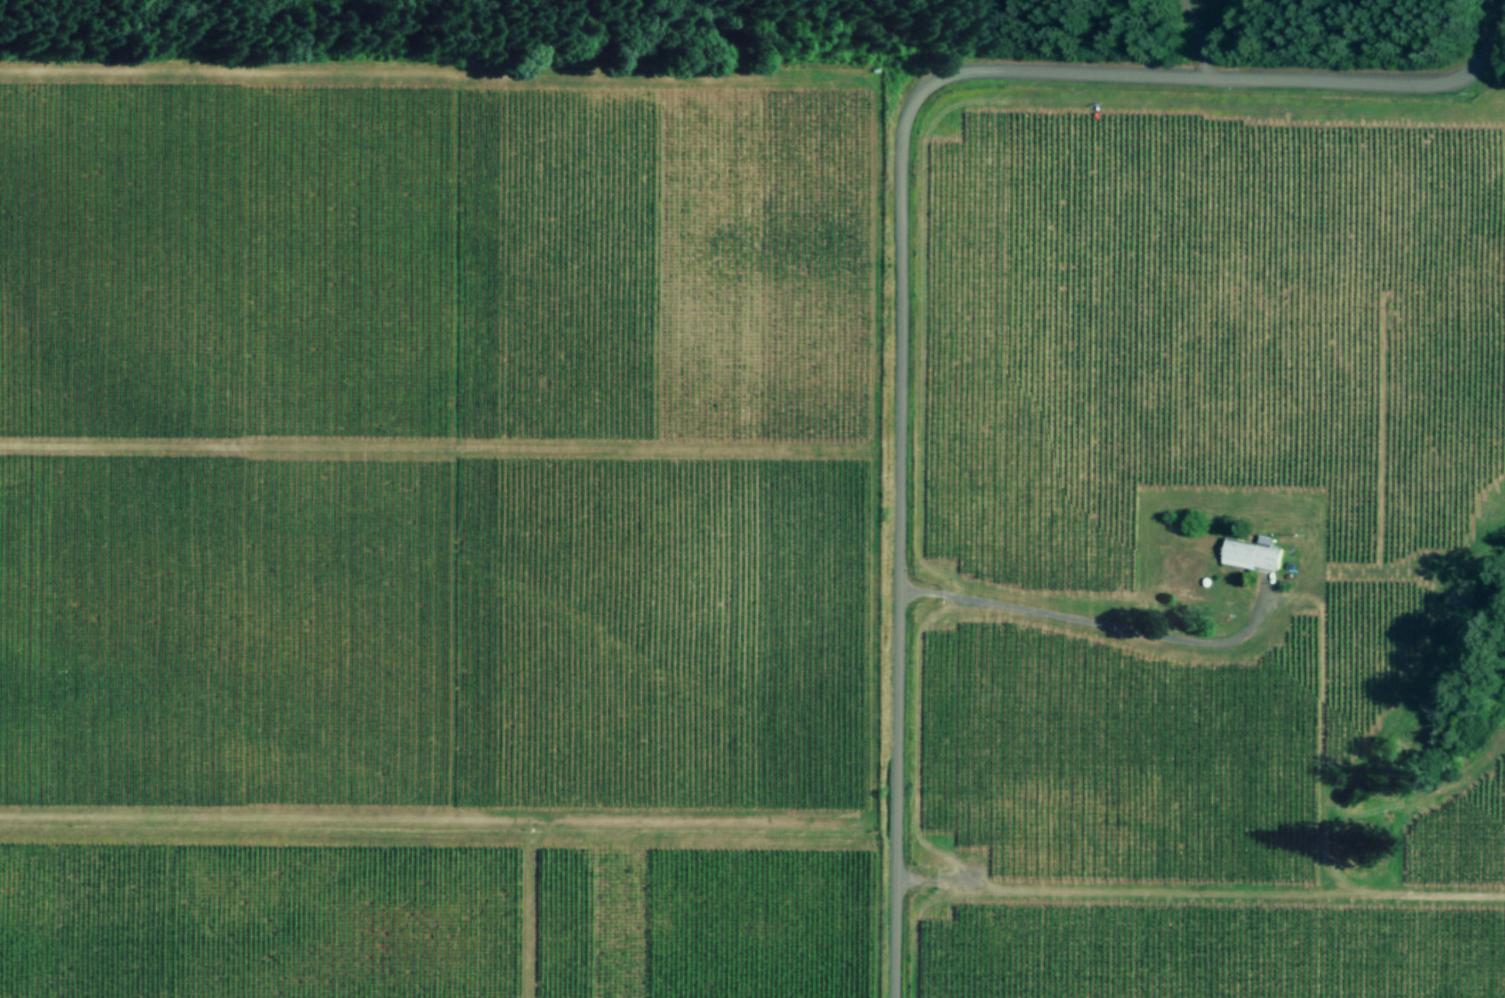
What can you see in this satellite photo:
road: (1196, 35)
road: (897, 224)
road: (1088, 620)

